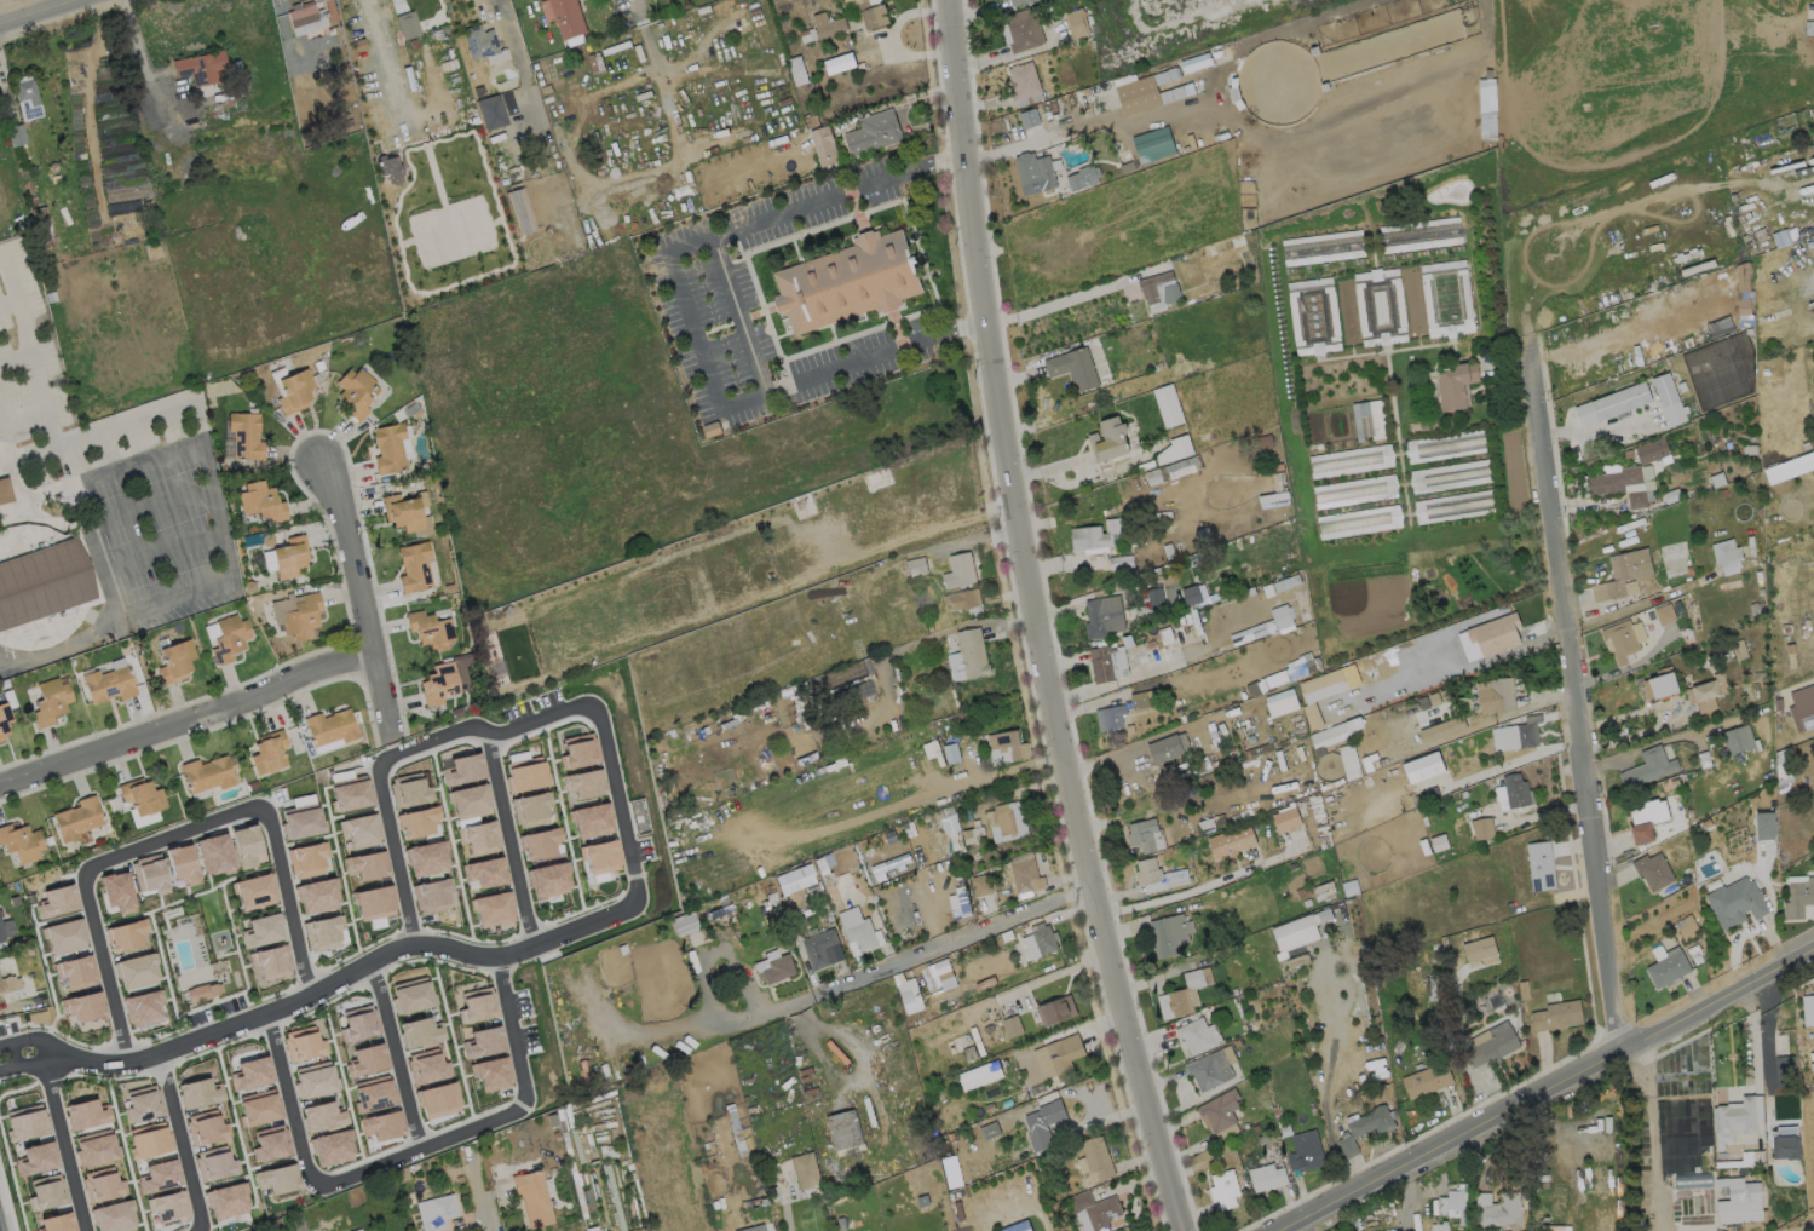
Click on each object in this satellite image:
building: (1023, 1)
road: (39, 12)
building: (870, 13)
building: (303, 15)
building: (569, 18)
building: (1076, 24)
building: (408, 25)
building: (823, 27)
building: (1809, 28)
building: (1021, 30)
building: (576, 41)
building: (480, 42)
building: (359, 45)
building: (414, 45)
road: (380, 50)
building: (575, 57)
building: (839, 62)
building: (1196, 62)
road: (520, 63)
building: (858, 64)
building: (202, 68)
building: (796, 69)
road: (139, 81)
road: (662, 82)
building: (1024, 84)
building: (548, 90)
building: (27, 92)
building: (1147, 93)
building: (1487, 104)
building: (591, 105)
building: (1813, 110)
building: (493, 113)
building: (1029, 117)
building: (874, 132)
building: (17, 136)
building: (597, 138)
building: (1152, 143)
building: (824, 145)
building: (558, 163)
building: (53, 167)
building: (388, 168)
building: (1035, 172)
building: (1084, 177)
road: (1791, 183)
building: (516, 186)
building: (364, 195)
building: (33, 201)
building: (166, 205)
building: (519, 211)
building: (39, 214)
building: (163, 218)
building: (576, 223)
building: (1421, 235)
building: (1323, 247)
building: (48, 260)
building: (1741, 276)
building: (847, 281)
building: (1154, 289)
building: (51, 298)
building: (1446, 298)
building: (1380, 306)
building: (1744, 306)
road: (687, 315)
building: (1313, 315)
building: (344, 341)
road: (27, 347)
building: (319, 366)
building: (1073, 367)
building: (1452, 385)
building: (295, 392)
building: (357, 392)
building: (1668, 398)
building: (1612, 403)
building: (1168, 404)
crop: (1401, 404)
building: (411, 409)
building: (1369, 420)
building: (710, 428)
road: (1596, 431)
building: (247, 437)
building: (1110, 438)
road: (184, 444)
building: (1446, 444)
building: (1174, 448)
building: (390, 449)
building: (1651, 450)
building: (1351, 460)
building: (1789, 467)
building: (224, 468)
building: (1173, 470)
building: (1451, 476)
building: (1716, 479)
building: (1619, 483)
building: (1355, 490)
building: (5, 491)
road: (30, 495)
building: (1670, 495)
building: (1272, 500)
building: (263, 502)
building: (1455, 505)
road: (152, 507)
building: (407, 514)
building: (1359, 520)
building: (1096, 536)
road: (166, 551)
building: (1727, 556)
building: (290, 558)
building: (1121, 562)
building: (912, 566)
building: (415, 568)
building: (958, 570)
building: (1622, 573)
building: (42, 583)
building: (1193, 594)
building: (1154, 597)
building: (962, 599)
road: (362, 602)
road: (1631, 609)
building: (1664, 614)
building: (1102, 616)
building: (1280, 616)
building: (303, 617)
road: (1033, 620)
building: (1261, 628)
building: (431, 631)
building: (1495, 632)
building: (230, 639)
building: (1624, 640)
road: (67, 642)
building: (1738, 649)
building: (968, 655)
building: (177, 662)
building: (1107, 662)
building: (439, 684)
building: (110, 685)
building: (1659, 686)
building: (853, 692)
building: (1498, 694)
building: (1704, 696)
building: (1141, 698)
building: (1434, 698)
building: (52, 702)
road: (1568, 702)
building: (1802, 706)
building: (457, 712)
building: (1312, 715)
road: (185, 718)
building: (1111, 718)
building: (4, 720)
building: (332, 727)
road: (480, 729)
building: (1442, 729)
building: (1336, 731)
building: (1515, 734)
building: (1740, 740)
road: (1657, 741)
building: (1006, 744)
building: (1168, 747)
building: (578, 749)
building: (270, 753)
building: (952, 754)
building: (1349, 760)
building: (1648, 766)
building: (1423, 767)
building: (462, 769)
building: (1784, 769)
building: (526, 772)
building: (208, 775)
building: (253, 786)
building: (1515, 789)
building: (409, 790)
building: (350, 794)
building: (143, 796)
building: (470, 800)
road: (615, 803)
building: (530, 809)
building: (1648, 817)
building: (79, 819)
building: (591, 819)
building: (948, 819)
building: (1286, 819)
building: (301, 821)
building: (417, 821)
building: (1007, 821)
building: (1766, 827)
building: (1481, 828)
building: (362, 830)
building: (972, 832)
road: (171, 834)
building: (1146, 835)
building: (479, 838)
road: (509, 839)
building: (50, 841)
building: (1232, 841)
building: (22, 842)
building: (541, 842)
building: (1439, 842)
building: (247, 846)
road: (1291, 850)
building: (215, 853)
road: (393, 853)
building: (886, 857)
building: (427, 858)
building: (306, 859)
building: (601, 859)
building: (182, 863)
building: (367, 864)
building: (1541, 865)
building: (841, 867)
building: (889, 867)
building: (1653, 870)
building: (485, 872)
building: (150, 874)
building: (1025, 874)
building: (1158, 875)
building: (548, 879)
building: (794, 879)
building: (981, 885)
building: (1349, 887)
building: (1323, 888)
road: (1191, 890)
building: (117, 891)
building: (254, 891)
building: (317, 895)
building: (432, 895)
building: (1798, 896)
road: (286, 898)
building: (58, 899)
building: (373, 901)
building: (1735, 902)
building: (958, 904)
building: (493, 908)
building: (683, 922)
building: (1686, 927)
building: (263, 930)
building: (322, 932)
building: (1295, 932)
building: (1, 933)
building: (1170, 933)
building: (126, 934)
building: (65, 936)
building: (862, 936)
building: (1044, 938)
building: (21, 940)
building: (819, 948)
building: (1480, 951)
building: (271, 960)
road: (888, 963)
road: (102, 966)
building: (1666, 966)
building: (772, 967)
building: (943, 970)
building: (137, 971)
building: (77, 972)
road: (341, 973)
building: (1, 986)
building: (202, 991)
building: (1184, 994)
building: (411, 995)
building: (908, 1001)
building: (1485, 1001)
building: (477, 1003)
building: (83, 1006)
building: (143, 1007)
building: (1055, 1009)
building: (1555, 1014)
building: (358, 1022)
road: (509, 1025)
building: (1012, 1026)
building: (420, 1031)
building: (1198, 1036)
road: (28, 1039)
building: (301, 1042)
building: (483, 1042)
building: (1490, 1043)
road: (396, 1053)
building: (1058, 1054)
building: (365, 1059)
road: (25, 1062)
building: (427, 1065)
building: (1784, 1065)
building: (583, 1069)
building: (1213, 1069)
building: (253, 1072)
building: (491, 1074)
building: (978, 1075)
building: (315, 1078)
building: (1427, 1080)
road: (1543, 1091)
building: (200, 1092)
building: (373, 1093)
road: (287, 1098)
building: (437, 1099)
building: (143, 1103)
building: (259, 1106)
building: (87, 1114)
building: (1220, 1114)
building: (322, 1116)
building: (1737, 1118)
building: (552, 1121)
building: (25, 1122)
building: (1042, 1122)
building: (381, 1124)
building: (594, 1126)
building: (1363, 1126)
building: (206, 1127)
building: (843, 1129)
building: (989, 1129)
road: (1652, 1135)
building: (557, 1137)
road: (180, 1138)
building: (149, 1139)
building: (271, 1141)
building: (1785, 1141)
road: (62, 1143)
road: (422, 1146)
building: (1677, 1146)
building: (96, 1147)
building: (332, 1147)
building: (1305, 1151)
building: (584, 1152)
building: (1751, 1157)
building: (1094, 1160)
building: (214, 1163)
building: (708, 1164)
building: (804, 1168)
building: (415, 1169)
building: (397, 1175)
building: (1267, 1175)
building: (159, 1177)
building: (277, 1179)
building: (1692, 1180)
building: (102, 1184)
building: (1223, 1189)
building: (47, 1190)
road: (478, 1193)
building: (771, 1193)
building: (534, 1198)
building: (1738, 1200)
building: (228, 1201)
road: (731, 1201)
building: (169, 1207)
building: (1449, 1207)
building: (1095, 1208)
building: (1498, 1210)
building: (443, 1212)
building: (299, 1221)
building: (57, 1223)
road: (198, 1226)
building: (1017, 1226)
building: (753, 1227)
road: (1807, 1227)
building: (356, 1230)

